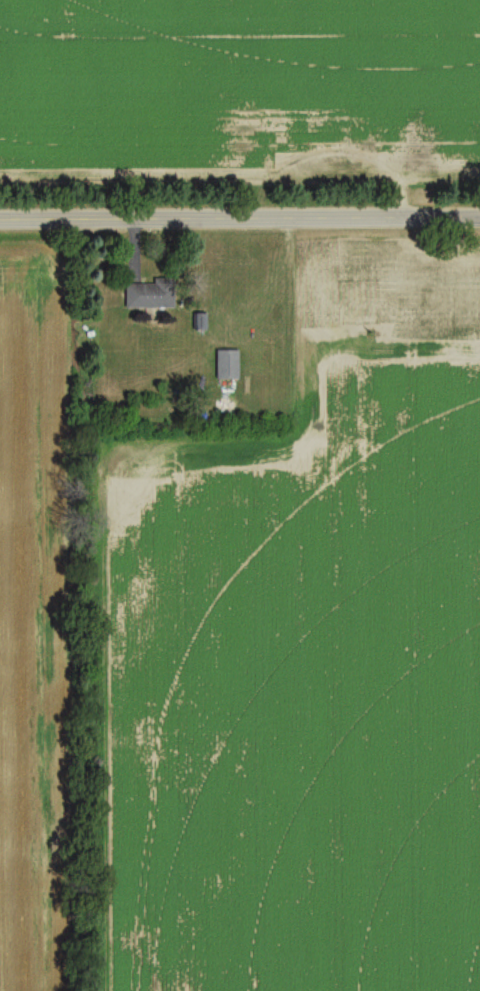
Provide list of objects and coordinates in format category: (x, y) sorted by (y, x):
crop: (240, 91)
road: (239, 208)
building: (150, 298)
building: (228, 367)

